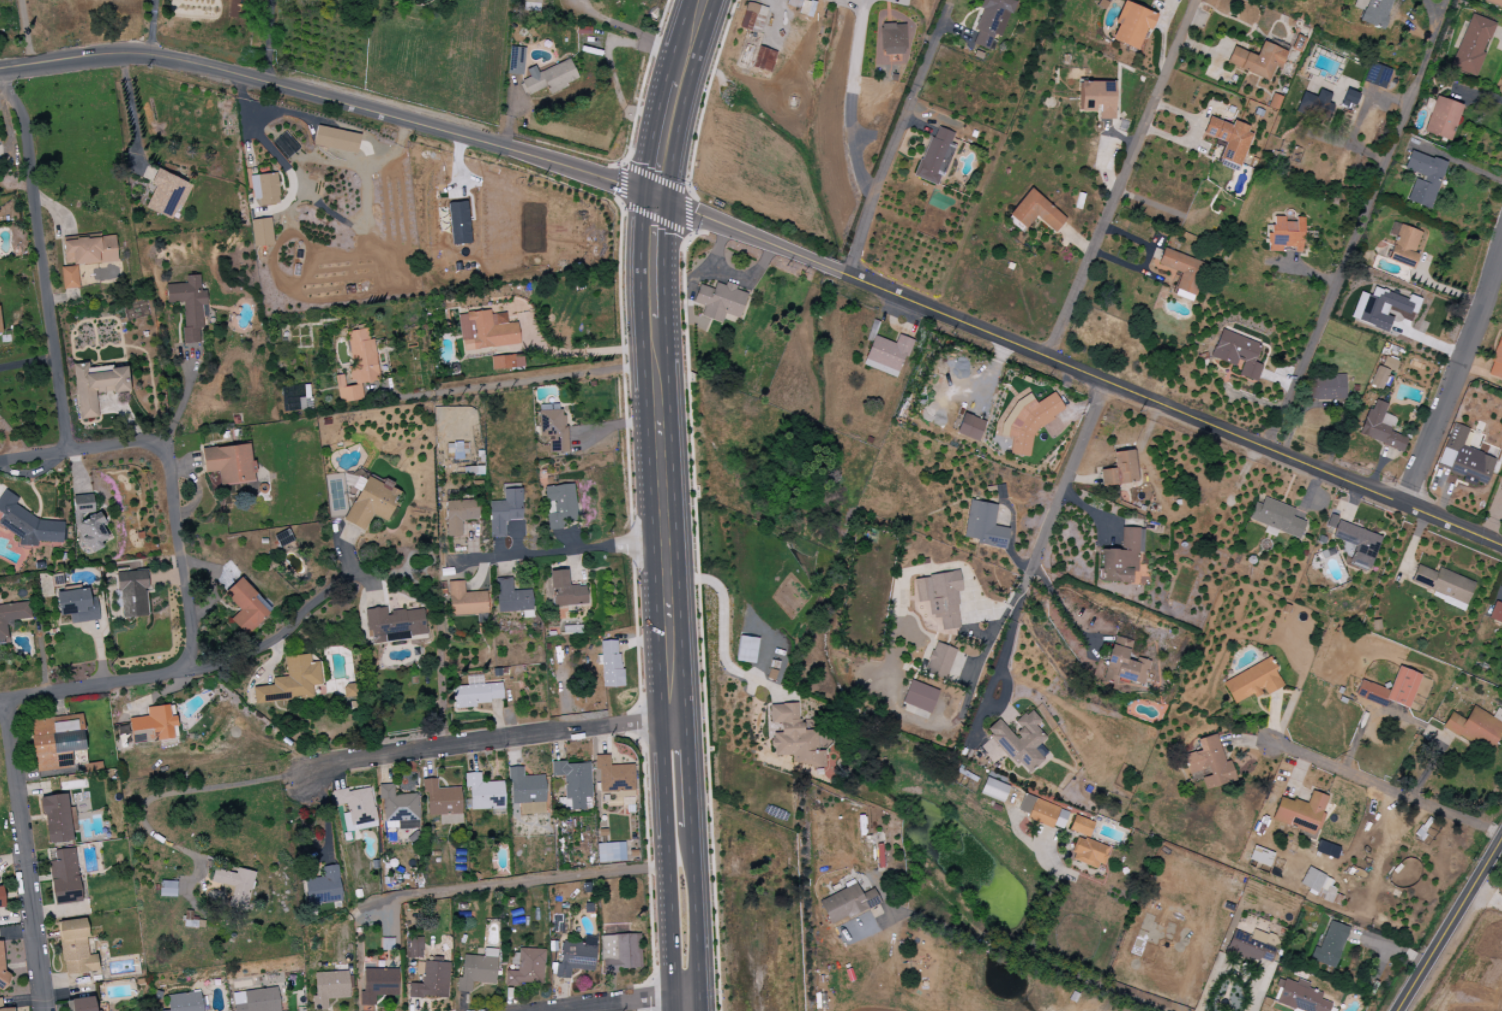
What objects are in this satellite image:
building: (532, 1)
building: (1493, 3)
road: (851, 6)
building: (1372, 12)
road: (1435, 12)
road: (778, 16)
building: (752, 18)
building: (991, 21)
building: (1131, 25)
road: (154, 28)
road: (629, 30)
road: (26, 33)
building: (892, 39)
road: (268, 41)
building: (1472, 45)
building: (763, 59)
building: (516, 60)
building: (1257, 60)
building: (1376, 75)
building: (549, 78)
road: (672, 97)
building: (1096, 98)
building: (1348, 98)
road: (330, 101)
building: (1315, 103)
road: (854, 105)
road: (135, 112)
building: (1442, 118)
road: (895, 137)
building: (1228, 138)
building: (336, 140)
road: (269, 148)
building: (935, 156)
building: (1423, 178)
road: (1121, 179)
building: (265, 189)
building: (166, 193)
traffic signals: (654, 197)
building: (1036, 212)
building: (458, 223)
road: (1360, 224)
building: (261, 232)
building: (1284, 235)
building: (1402, 245)
building: (85, 256)
road: (43, 258)
building: (1182, 270)
road: (727, 274)
building: (719, 301)
building: (188, 305)
building: (1381, 308)
building: (0, 327)
building: (487, 330)
building: (1237, 354)
road: (572, 355)
building: (886, 355)
building: (362, 356)
building: (1496, 361)
building: (506, 362)
road: (28, 363)
road: (1078, 370)
building: (1382, 372)
road: (1452, 373)
road: (521, 382)
building: (97, 386)
building: (1327, 388)
building: (348, 391)
building: (1027, 421)
building: (552, 426)
building: (970, 427)
building: (1380, 427)
road: (101, 448)
road: (657, 457)
building: (1464, 458)
building: (229, 463)
building: (1119, 470)
building: (1501, 487)
road: (1056, 501)
building: (371, 502)
building: (559, 505)
building: (459, 515)
building: (1276, 517)
building: (27, 524)
building: (88, 525)
building: (983, 525)
building: (1355, 542)
road: (554, 553)
road: (180, 555)
building: (1121, 557)
building: (1444, 585)
building: (566, 591)
building: (132, 594)
building: (940, 597)
building: (512, 598)
building: (465, 600)
building: (77, 605)
building: (246, 606)
road: (1061, 608)
building: (1496, 613)
building: (11, 617)
building: (394, 625)
road: (724, 637)
building: (746, 649)
building: (939, 661)
building: (611, 663)
building: (1126, 665)
road: (1001, 667)
road: (194, 670)
building: (291, 681)
building: (1252, 682)
building: (349, 690)
building: (1391, 691)
building: (477, 692)
building: (919, 696)
building: (152, 725)
building: (1475, 730)
building: (793, 737)
building: (1019, 740)
road: (485, 742)
building: (54, 743)
building: (1211, 762)
building: (614, 776)
building: (574, 783)
road: (1387, 789)
building: (993, 790)
building: (527, 792)
building: (484, 793)
road: (169, 795)
building: (443, 802)
building: (356, 808)
building: (398, 809)
building: (1042, 812)
building: (1301, 813)
building: (56, 819)
building: (1081, 826)
building: (1326, 849)
building: (610, 852)
building: (1089, 853)
road: (25, 855)
building: (1262, 856)
road: (692, 861)
road: (666, 864)
building: (64, 877)
road: (546, 878)
building: (1314, 881)
building: (234, 886)
building: (323, 887)
building: (167, 889)
building: (1, 897)
road: (1045, 897)
road: (1485, 899)
building: (847, 903)
road: (1449, 924)
building: (1329, 946)
building: (1252, 947)
building: (75, 948)
building: (620, 952)
road: (1029, 956)
building: (576, 957)
building: (2, 963)
road: (1231, 966)
building: (527, 969)
building: (477, 970)
building: (427, 972)
building: (378, 984)
building: (330, 987)
building: (1303, 998)
building: (256, 1000)
building: (0, 1002)
building: (184, 1002)
road: (632, 1002)
building: (81, 1004)

